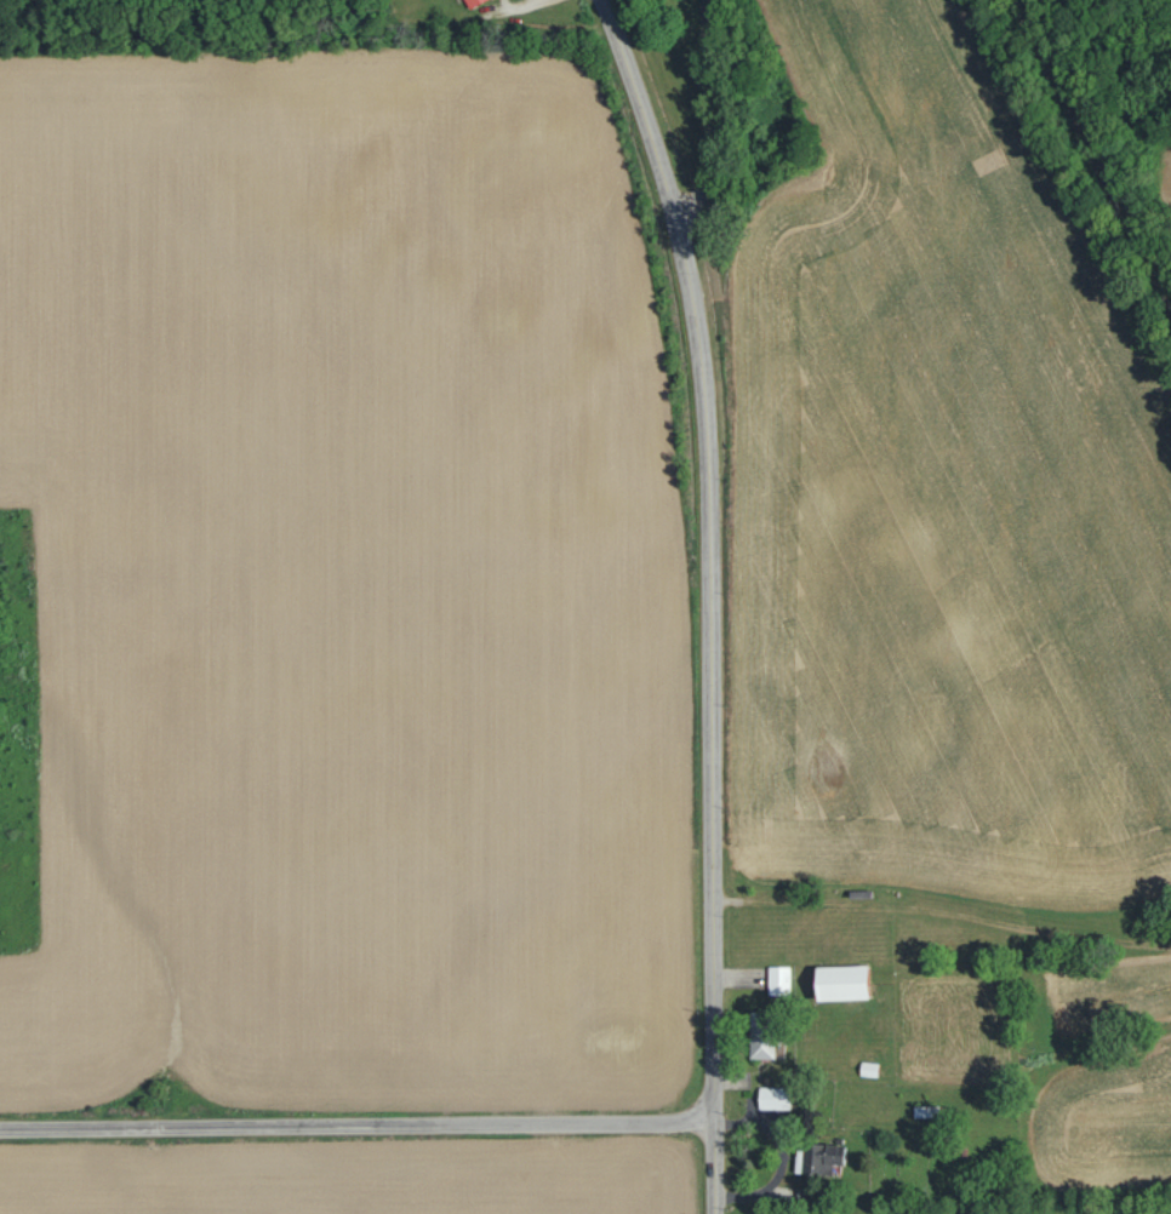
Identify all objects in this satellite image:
building: (473, 2)
road: (607, 18)
road: (703, 114)
road: (1091, 158)
road: (708, 618)
road: (726, 898)
road: (956, 914)
building: (778, 979)
building: (844, 983)
building: (760, 1036)
building: (773, 1098)
road: (356, 1124)
building: (819, 1159)

